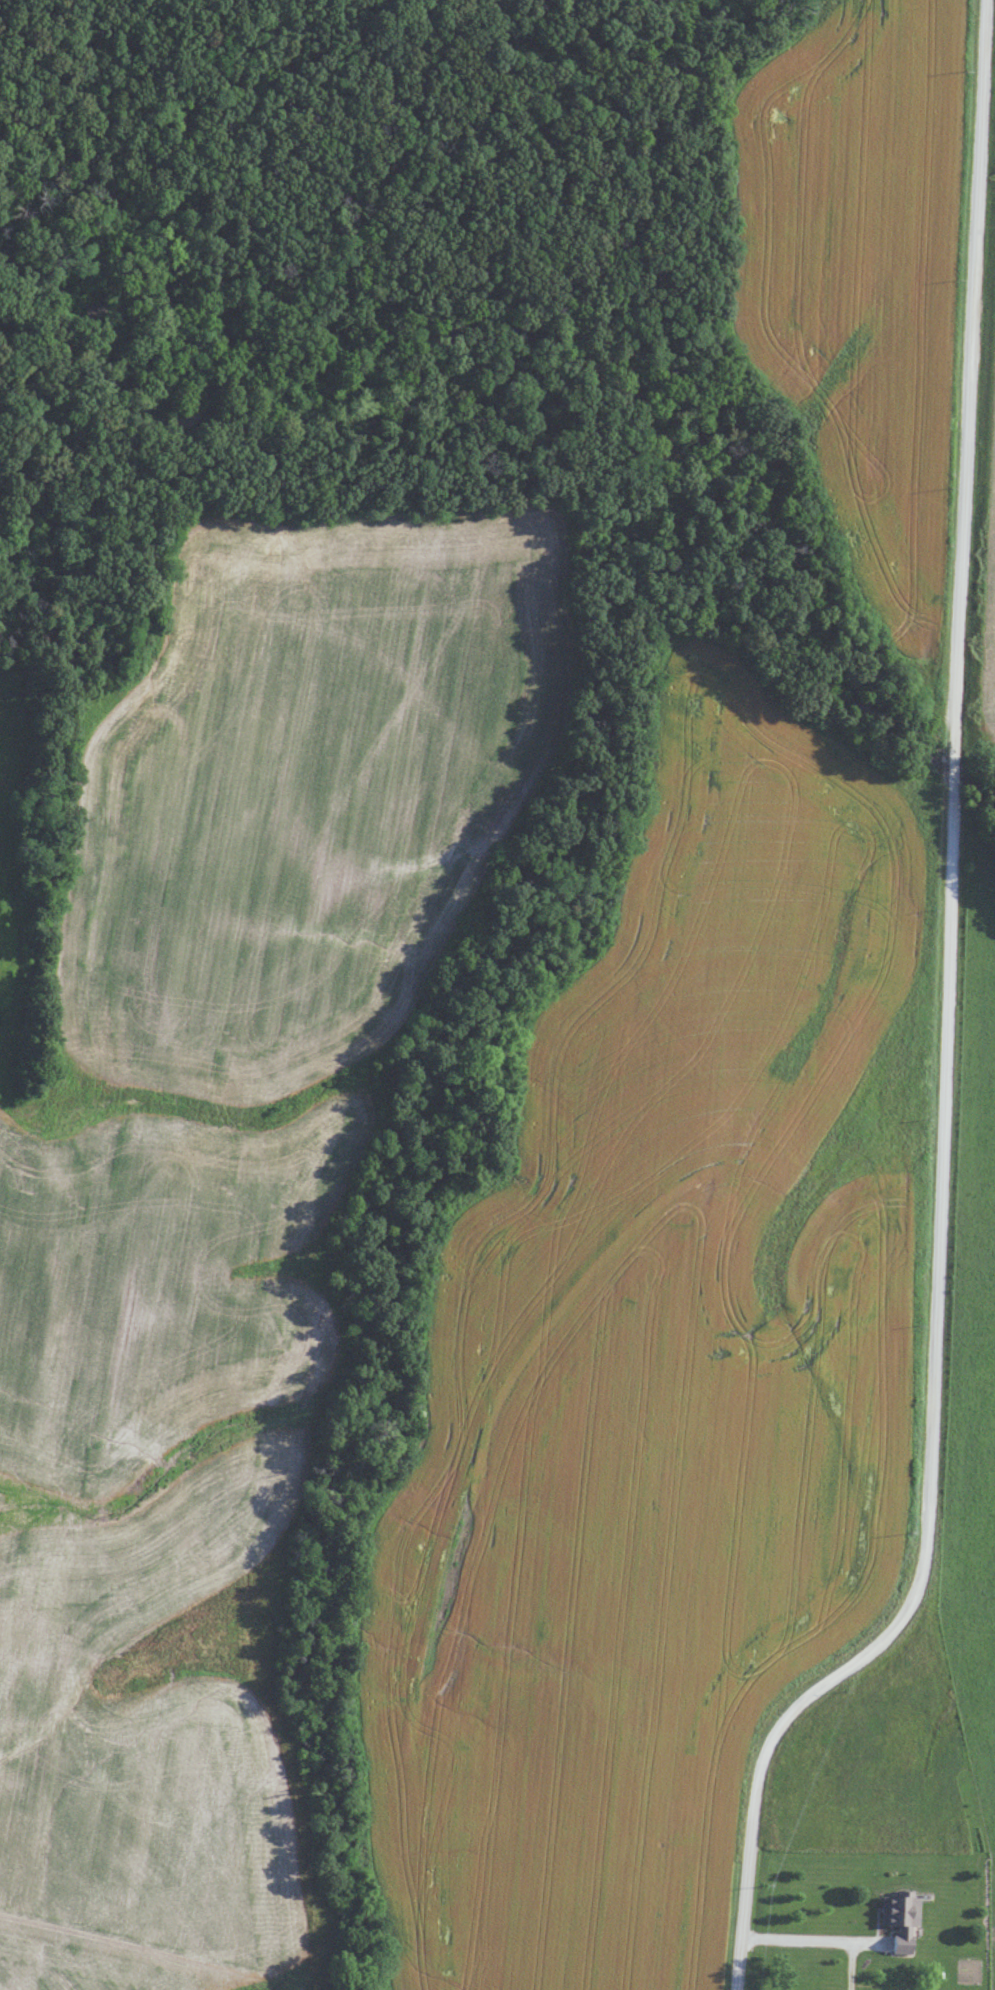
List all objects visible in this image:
road: (950, 1029)
building: (903, 1919)
road: (812, 1943)
road: (849, 1966)

